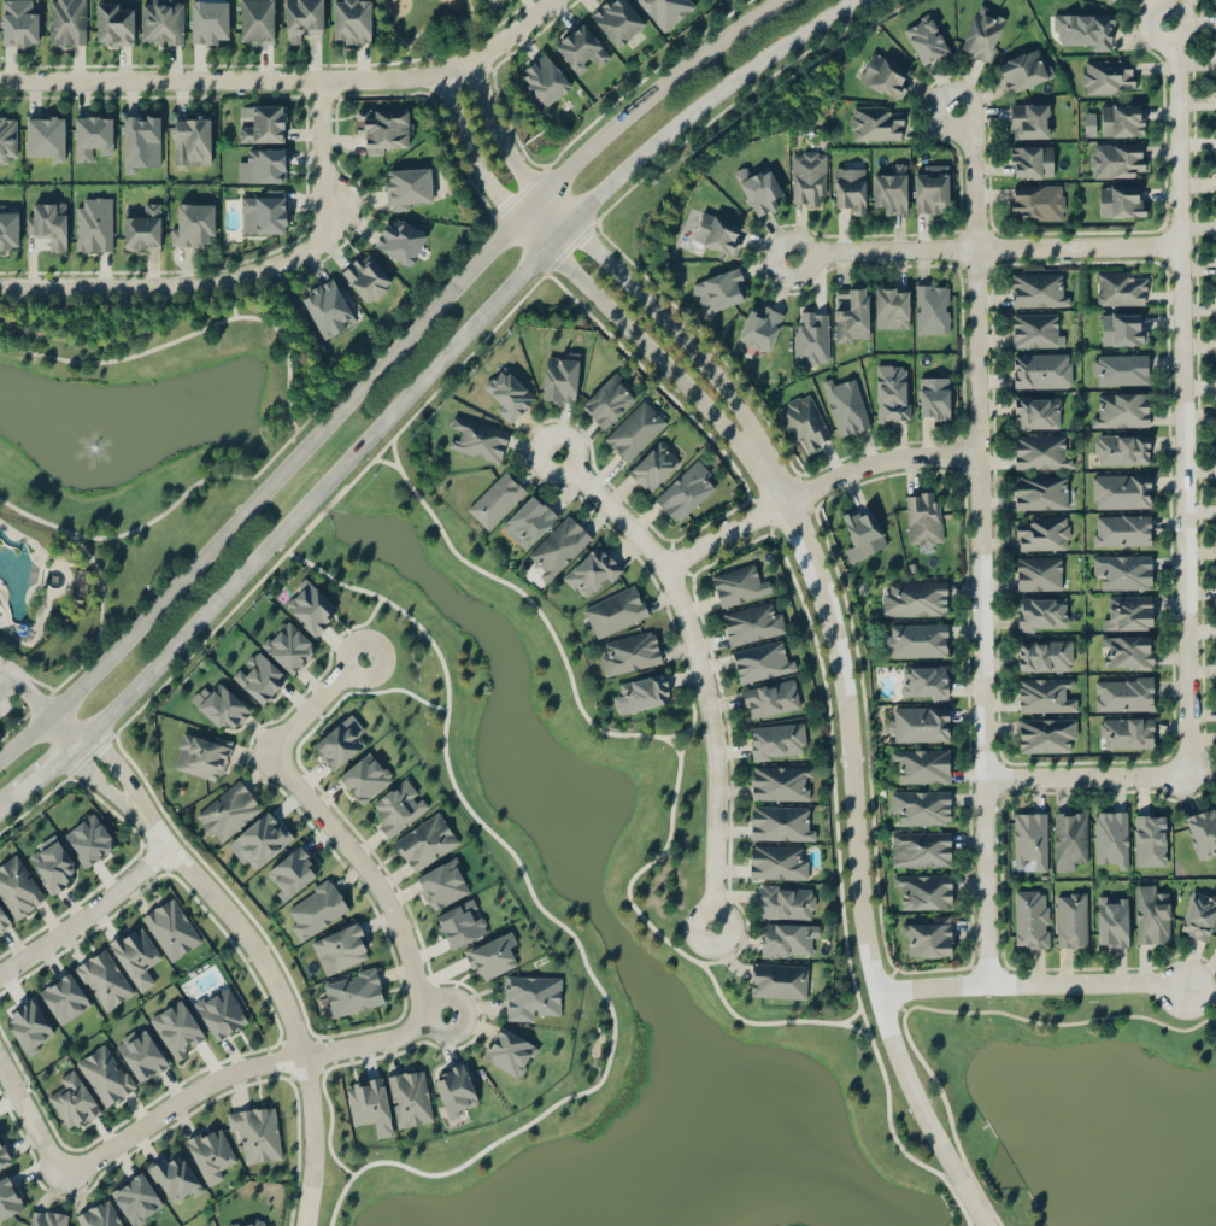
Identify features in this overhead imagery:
building: (489, 0)
building: (1111, 0)
road: (471, 7)
building: (665, 10)
building: (301, 17)
road: (436, 18)
building: (616, 19)
building: (19, 20)
building: (161, 20)
building: (208, 20)
building: (255, 20)
building: (351, 20)
building: (67, 22)
building: (114, 22)
road: (389, 25)
building: (1083, 29)
road: (443, 33)
building: (981, 33)
building: (926, 39)
building: (580, 45)
building: (1215, 52)
road: (435, 53)
road: (478, 54)
building: (1023, 69)
building: (885, 75)
building: (1106, 75)
road: (288, 80)
building: (544, 80)
road: (642, 80)
road: (442, 83)
road: (333, 87)
road: (164, 94)
building: (1215, 94)
building: (1121, 118)
building: (1028, 119)
road: (509, 121)
building: (875, 122)
building: (265, 123)
building: (1089, 123)
building: (382, 127)
building: (92, 133)
building: (1215, 135)
building: (7, 136)
building: (43, 136)
building: (190, 139)
building: (140, 140)
road: (457, 154)
building: (1030, 159)
building: (1117, 159)
building: (266, 164)
building: (809, 176)
building: (1215, 176)
road: (363, 186)
building: (409, 187)
building: (930, 187)
building: (758, 188)
building: (889, 188)
building: (848, 189)
road: (521, 190)
road: (621, 194)
building: (1036, 200)
building: (1120, 200)
building: (263, 210)
building: (1215, 217)
building: (47, 222)
building: (94, 223)
building: (193, 224)
building: (8, 227)
building: (141, 228)
building: (717, 231)
building: (400, 239)
road: (986, 250)
building: (1215, 257)
building: (366, 275)
road: (245, 277)
road: (624, 281)
building: (722, 287)
building: (1120, 287)
building: (1038, 288)
road: (599, 297)
building: (1215, 298)
road: (234, 305)
building: (327, 306)
building: (891, 306)
building: (932, 307)
building: (851, 313)
building: (759, 325)
building: (1122, 328)
building: (1036, 329)
road: (188, 332)
building: (811, 336)
building: (1215, 338)
road: (371, 347)
road: (446, 353)
road: (377, 364)
building: (1120, 368)
building: (1041, 369)
building: (559, 376)
road: (665, 392)
building: (892, 392)
building: (509, 393)
building: (933, 397)
building: (609, 399)
road: (1180, 401)
building: (845, 405)
building: (1122, 409)
building: (1035, 411)
building: (804, 421)
road: (535, 424)
building: (634, 429)
road: (584, 433)
building: (477, 438)
building: (1121, 448)
fountain: (89, 451)
road: (392, 451)
building: (1040, 451)
road: (522, 458)
building: (653, 464)
road: (531, 476)
road: (813, 487)
building: (685, 489)
building: (1120, 489)
building: (1039, 491)
building: (495, 498)
building: (923, 517)
building: (528, 520)
building: (863, 528)
building: (1121, 529)
road: (129, 532)
building: (1041, 532)
building: (559, 544)
road: (979, 546)
road: (629, 547)
road: (666, 550)
road: (679, 567)
building: (1122, 569)
building: (591, 571)
building: (1038, 571)
building: (81, 581)
building: (736, 583)
road: (98, 592)
building: (915, 597)
road: (663, 598)
road: (535, 603)
building: (310, 605)
building: (615, 610)
building: (1040, 612)
building: (1127, 612)
building: (752, 622)
building: (916, 639)
road: (201, 640)
building: (288, 645)
building: (1126, 650)
building: (630, 652)
building: (1044, 653)
building: (762, 661)
road: (700, 664)
road: (1, 676)
building: (259, 676)
road: (683, 676)
building: (923, 680)
building: (641, 692)
building: (1122, 692)
road: (23, 693)
building: (1044, 693)
building: (770, 697)
road: (42, 698)
parking lot: (8, 702)
building: (223, 704)
building: (918, 722)
road: (59, 727)
road: (688, 731)
building: (1124, 731)
building: (1045, 732)
road: (675, 733)
building: (777, 739)
building: (339, 740)
road: (729, 740)
building: (201, 752)
road: (832, 759)
building: (922, 763)
road: (121, 767)
road: (39, 769)
building: (365, 776)
road: (1083, 779)
building: (781, 782)
road: (101, 784)
road: (5, 798)
building: (399, 806)
building: (920, 806)
building: (228, 810)
road: (328, 819)
building: (780, 821)
building: (1202, 829)
building: (1029, 835)
building: (88, 837)
building: (262, 837)
building: (1069, 837)
building: (1110, 837)
building: (1149, 838)
building: (424, 840)
building: (920, 847)
building: (775, 861)
building: (53, 864)
building: (290, 872)
road: (856, 872)
building: (443, 882)
building: (18, 886)
building: (923, 890)
road: (735, 896)
building: (787, 899)
building: (316, 907)
road: (88, 914)
building: (1150, 914)
building: (1198, 914)
building: (4, 917)
building: (1030, 917)
building: (1070, 917)
building: (1111, 920)
building: (460, 922)
road: (566, 926)
building: (171, 927)
building: (926, 937)
building: (786, 939)
road: (745, 943)
building: (1215, 944)
building: (341, 945)
building: (135, 954)
building: (492, 955)
road: (730, 961)
building: (104, 978)
building: (777, 979)
road: (1028, 985)
building: (353, 991)
building: (530, 995)
building: (64, 996)
road: (283, 998)
building: (219, 1010)
road: (851, 1016)
road: (753, 1020)
building: (28, 1023)
building: (177, 1028)
building: (509, 1050)
building: (141, 1052)
road: (241, 1067)
building: (105, 1074)
building: (456, 1089)
building: (410, 1096)
building: (74, 1099)
building: (370, 1104)
road: (29, 1115)
building: (255, 1131)
building: (211, 1151)
building: (2, 1154)
building: (174, 1175)
building: (7, 1196)
building: (136, 1197)
building: (99, 1214)
building: (47, 1216)
building: (248, 1222)

